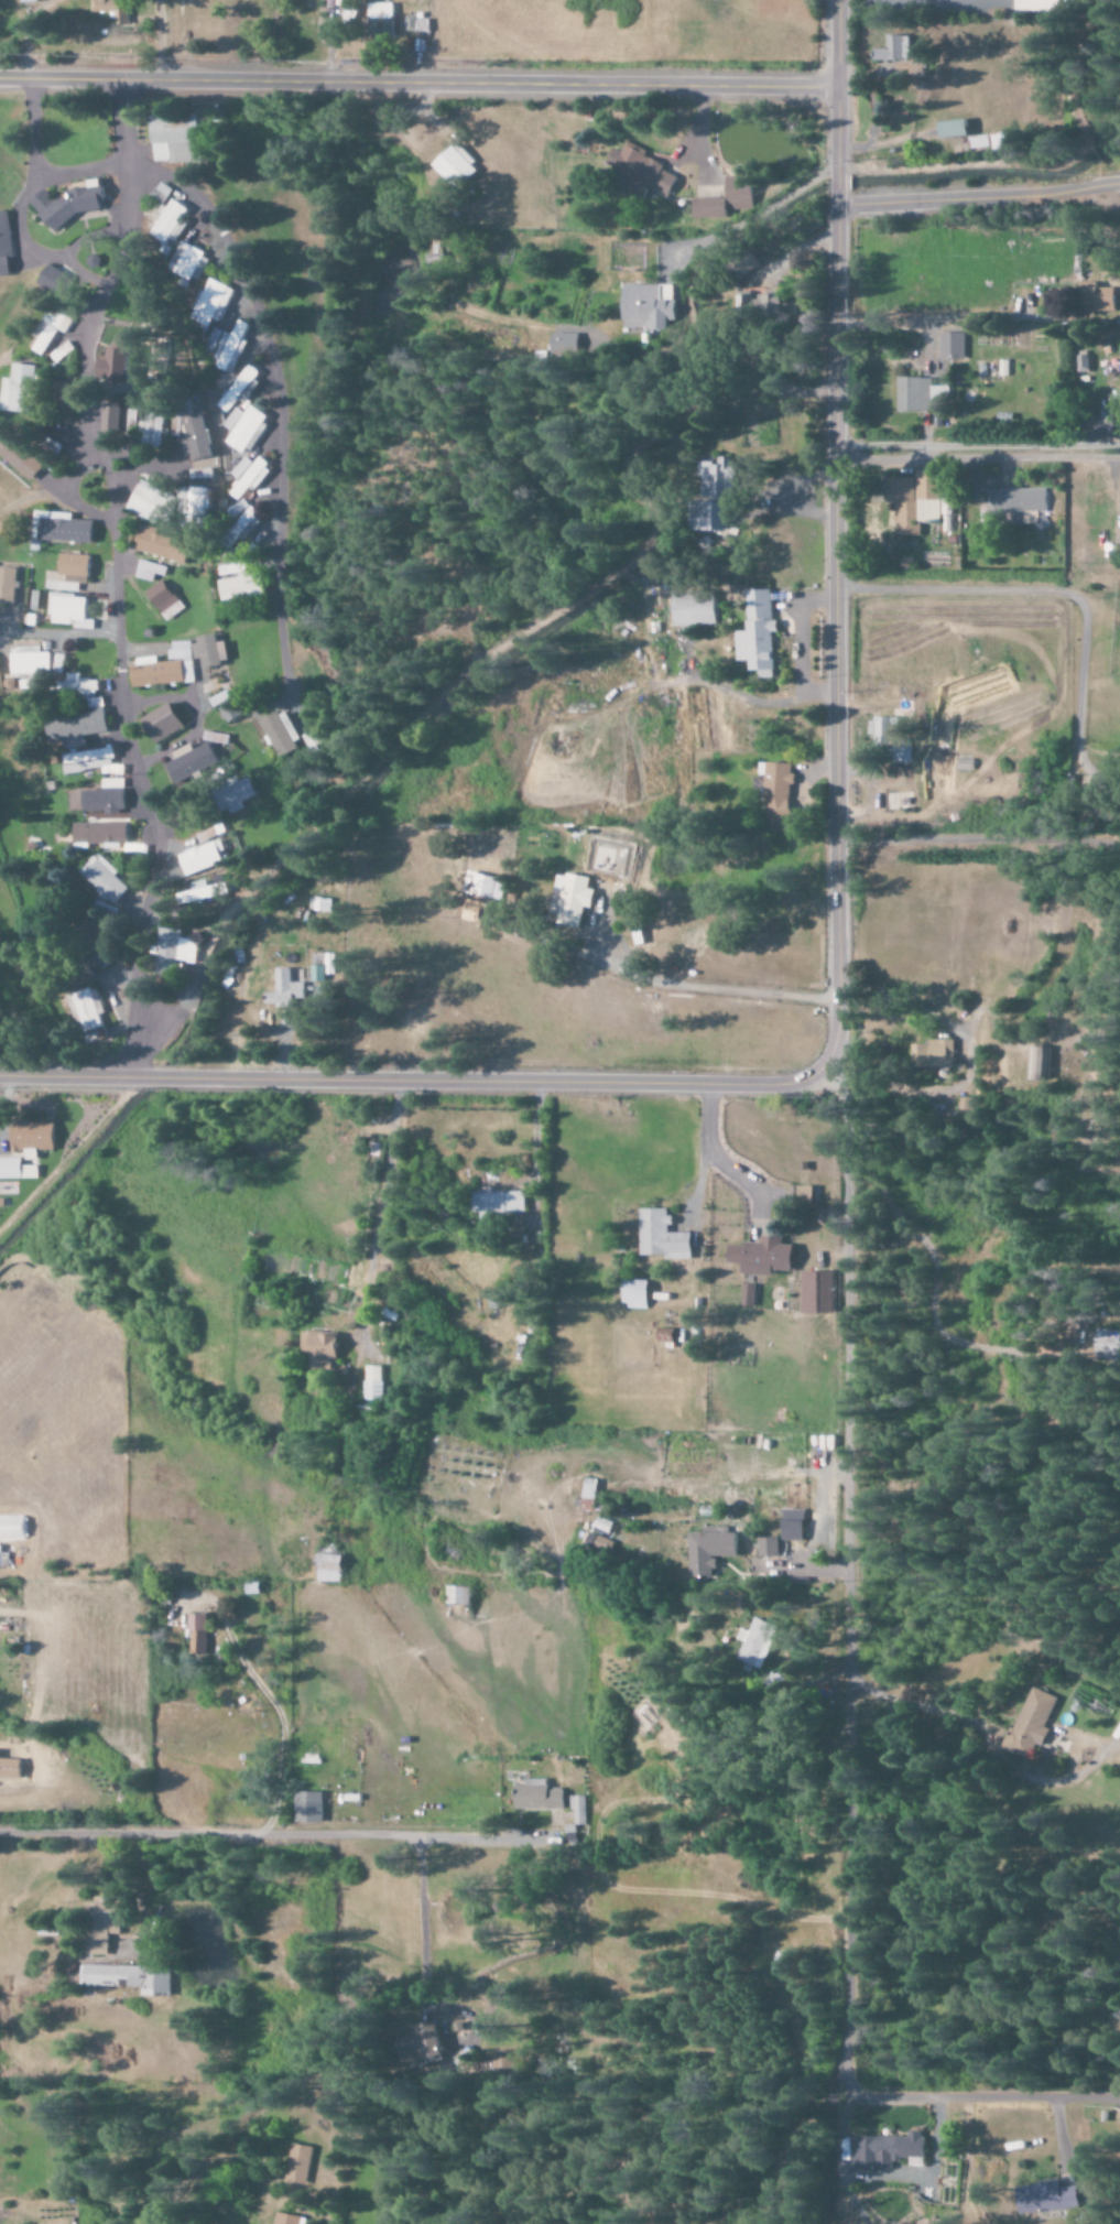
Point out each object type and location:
building: (1039, 4)
building: (115, 10)
building: (382, 11)
building: (411, 23)
building: (896, 50)
road: (417, 82)
building: (948, 129)
building: (176, 140)
building: (643, 167)
building: (459, 170)
building: (162, 193)
road: (976, 198)
building: (725, 199)
building: (70, 203)
building: (171, 223)
building: (6, 246)
building: (187, 263)
building: (1092, 297)
building: (211, 302)
building: (650, 306)
building: (772, 307)
building: (50, 330)
building: (565, 345)
building: (948, 346)
building: (230, 352)
building: (117, 362)
building: (21, 389)
building: (239, 389)
building: (913, 394)
building: (232, 419)
building: (123, 420)
building: (247, 428)
building: (155, 430)
building: (1100, 431)
building: (198, 436)
building: (21, 457)
building: (248, 476)
building: (717, 491)
building: (200, 495)
building: (913, 501)
building: (155, 502)
building: (1013, 503)
building: (238, 508)
building: (249, 520)
building: (67, 529)
road: (830, 532)
building: (164, 545)
building: (150, 569)
building: (70, 573)
building: (239, 582)
building: (8, 584)
building: (165, 599)
building: (697, 608)
building: (70, 610)
building: (759, 633)
building: (213, 650)
building: (31, 660)
building: (166, 666)
building: (231, 712)
building: (81, 713)
building: (166, 722)
building: (283, 733)
building: (890, 736)
building: (91, 761)
building: (193, 762)
building: (222, 773)
building: (780, 791)
building: (106, 801)
building: (104, 833)
building: (208, 836)
building: (206, 857)
building: (613, 860)
building: (106, 878)
building: (488, 885)
building: (206, 891)
building: (573, 899)
building: (178, 948)
building: (322, 966)
building: (285, 989)
building: (86, 1010)
building: (936, 1053)
building: (1041, 1063)
road: (413, 1080)
building: (34, 1138)
building: (17, 1169)
building: (502, 1203)
building: (665, 1236)
building: (766, 1256)
building: (819, 1292)
building: (637, 1293)
building: (748, 1295)
road: (925, 1304)
building: (1108, 1344)
building: (322, 1348)
building: (373, 1382)
building: (590, 1495)
building: (790, 1523)
building: (13, 1528)
building: (764, 1547)
building: (706, 1552)
building: (334, 1569)
building: (458, 1595)
building: (202, 1634)
building: (754, 1641)
building: (1079, 1695)
road: (844, 1704)
building: (1029, 1722)
building: (534, 1796)
building: (311, 1808)
building: (576, 1809)
road: (307, 1837)
building: (105, 1923)
building: (131, 1978)
building: (420, 2044)
building: (883, 2150)
building: (298, 2162)
building: (1042, 2196)
building: (286, 2218)

